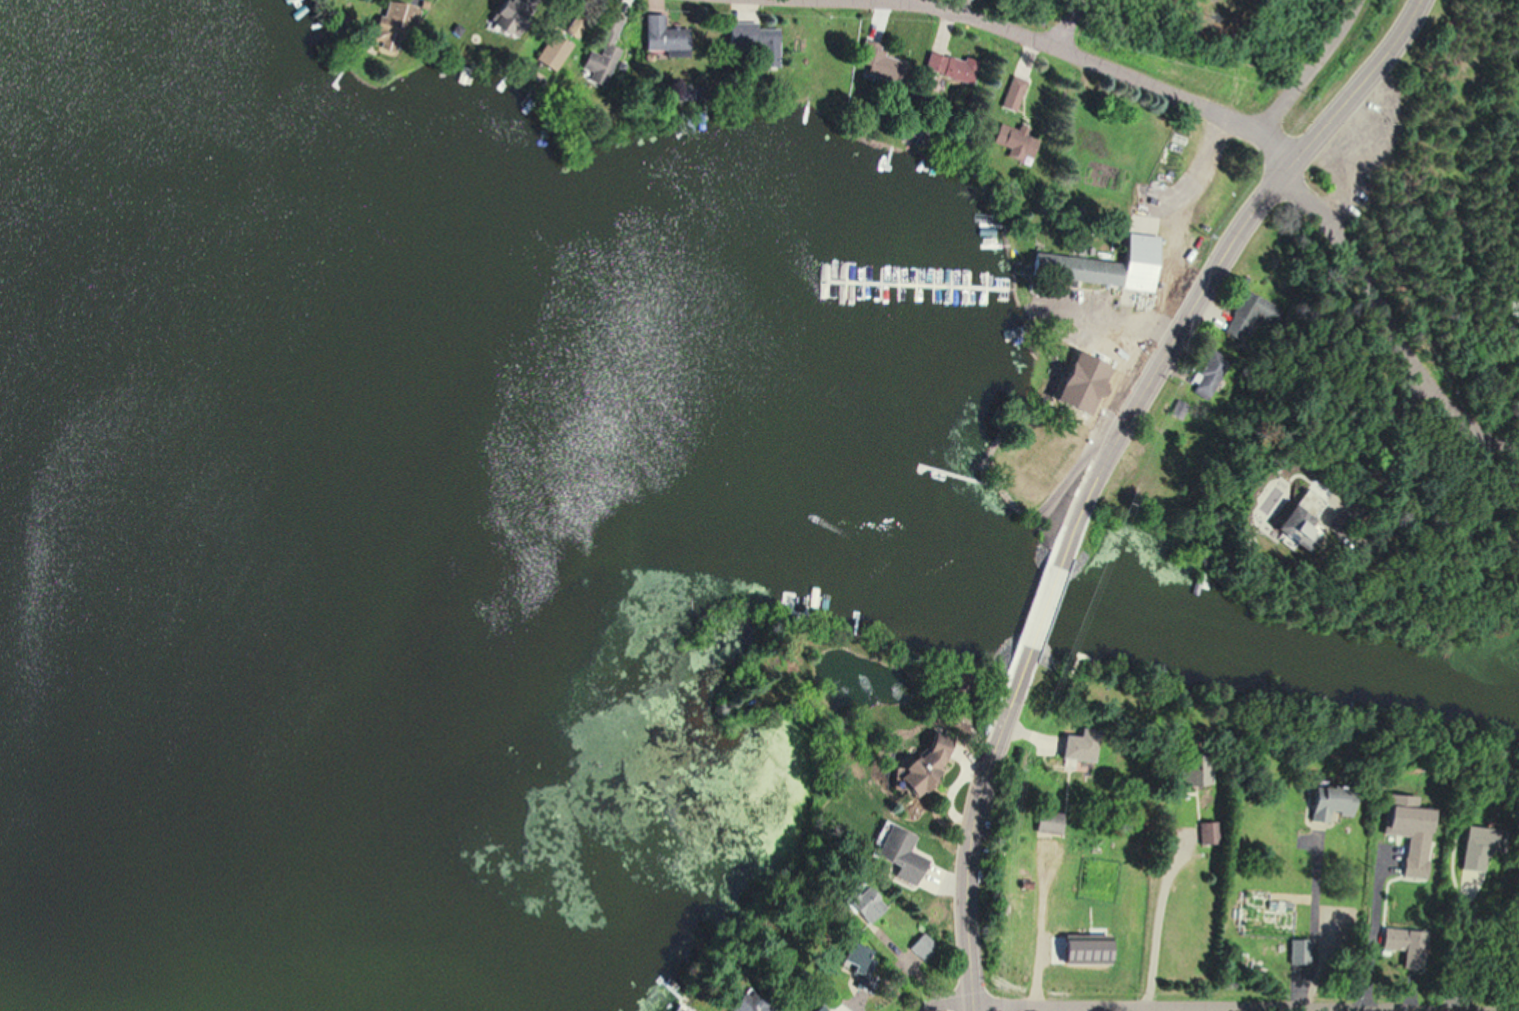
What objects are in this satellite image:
building: (507, 17)
road: (1074, 23)
building: (390, 26)
building: (663, 37)
building: (758, 41)
road: (1101, 62)
building: (598, 64)
building: (879, 64)
road: (1318, 67)
building: (955, 69)
building: (1013, 94)
building: (1013, 140)
building: (1104, 265)
road: (1219, 275)
building: (1518, 312)
road: (1392, 319)
building: (1081, 383)
building: (1307, 519)
building: (1079, 746)
building: (920, 767)
building: (1199, 770)
road: (990, 789)
building: (1327, 804)
building: (1402, 821)
building: (1207, 833)
building: (904, 859)
building: (864, 904)
building: (1267, 917)
road: (1156, 921)
road: (1313, 924)
road: (1372, 928)
building: (922, 947)
building: (1300, 954)
building: (856, 961)
road: (948, 996)
building: (747, 1004)
road: (1247, 1008)

